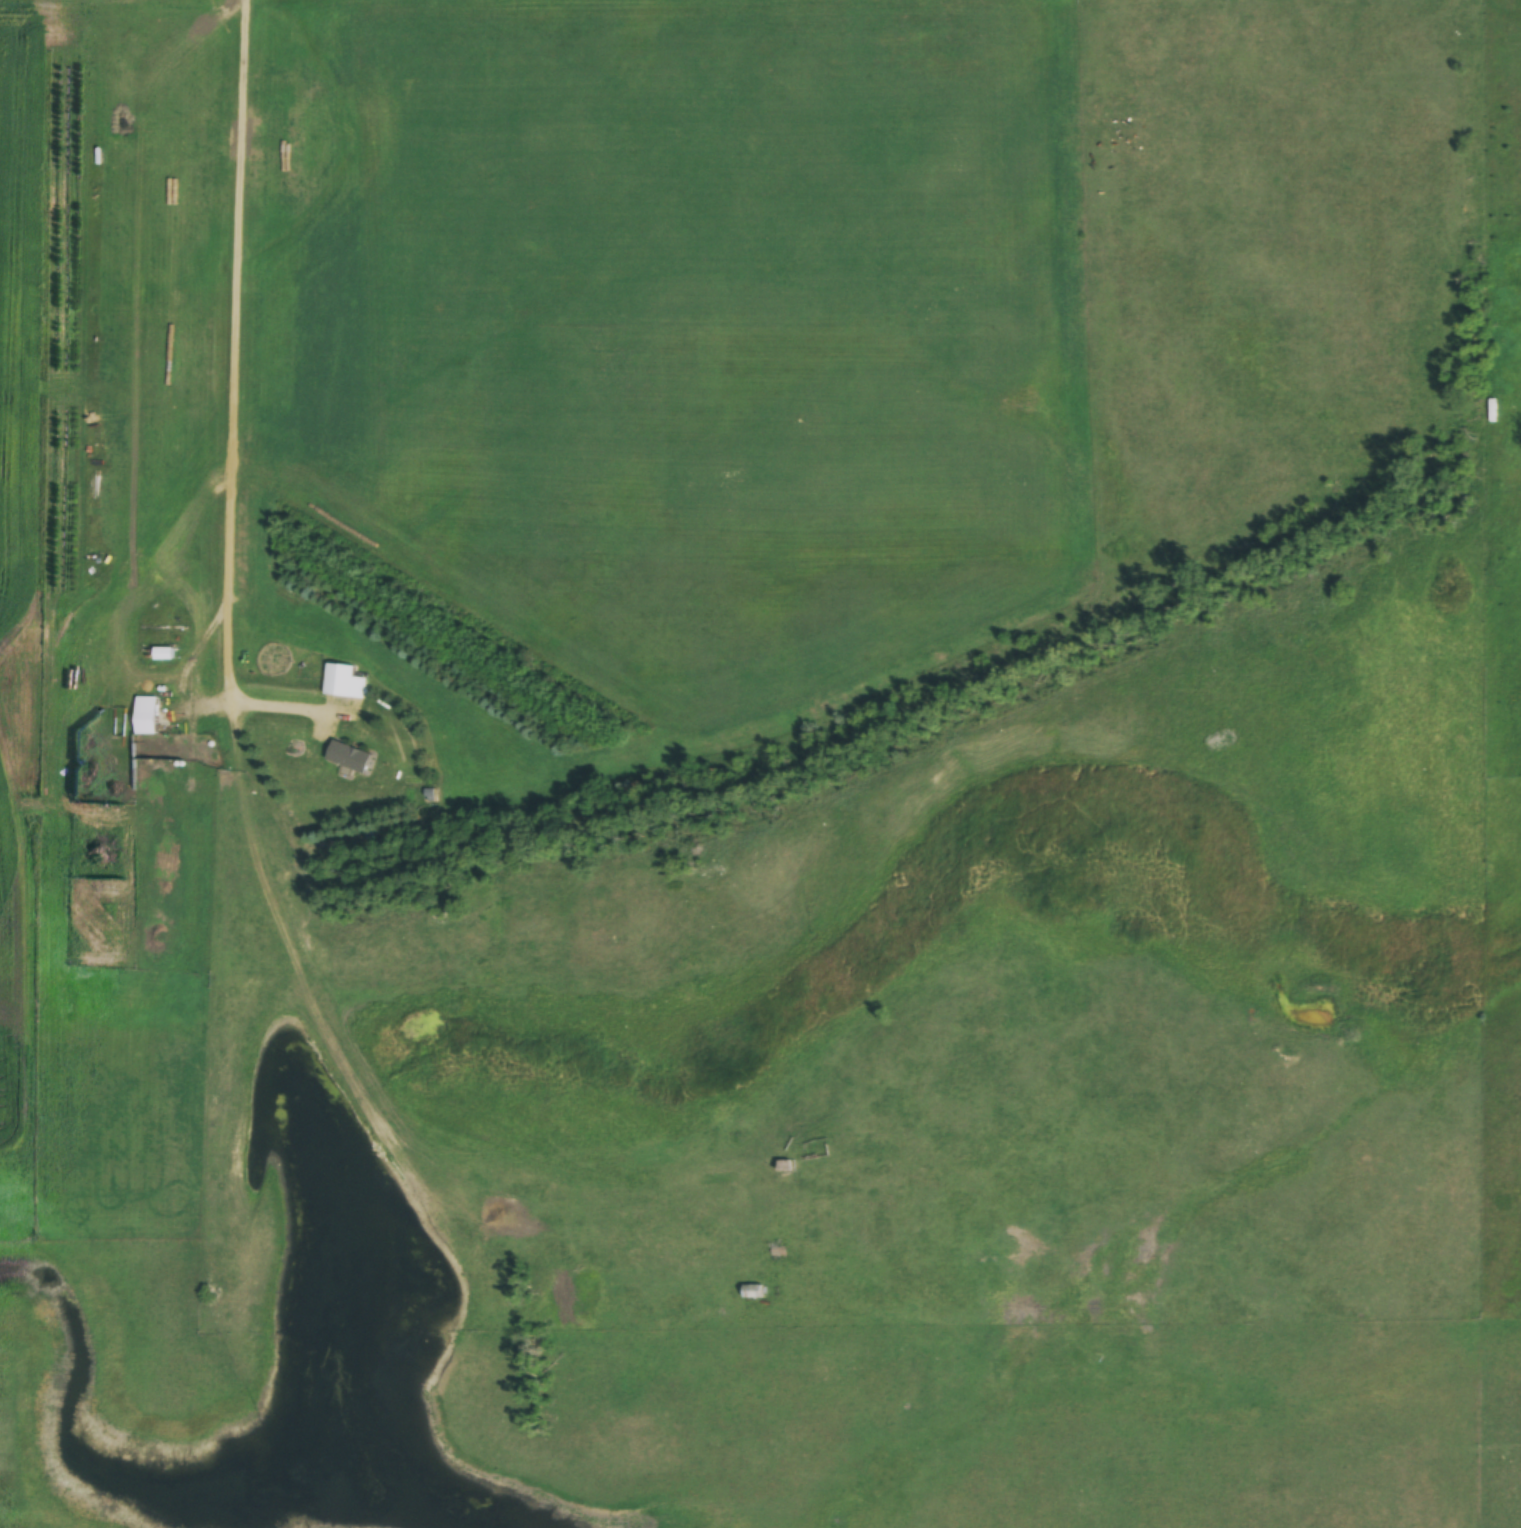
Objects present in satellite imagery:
road: (231, 404)
building: (338, 681)
building: (145, 716)
building: (350, 758)
building: (752, 1292)

